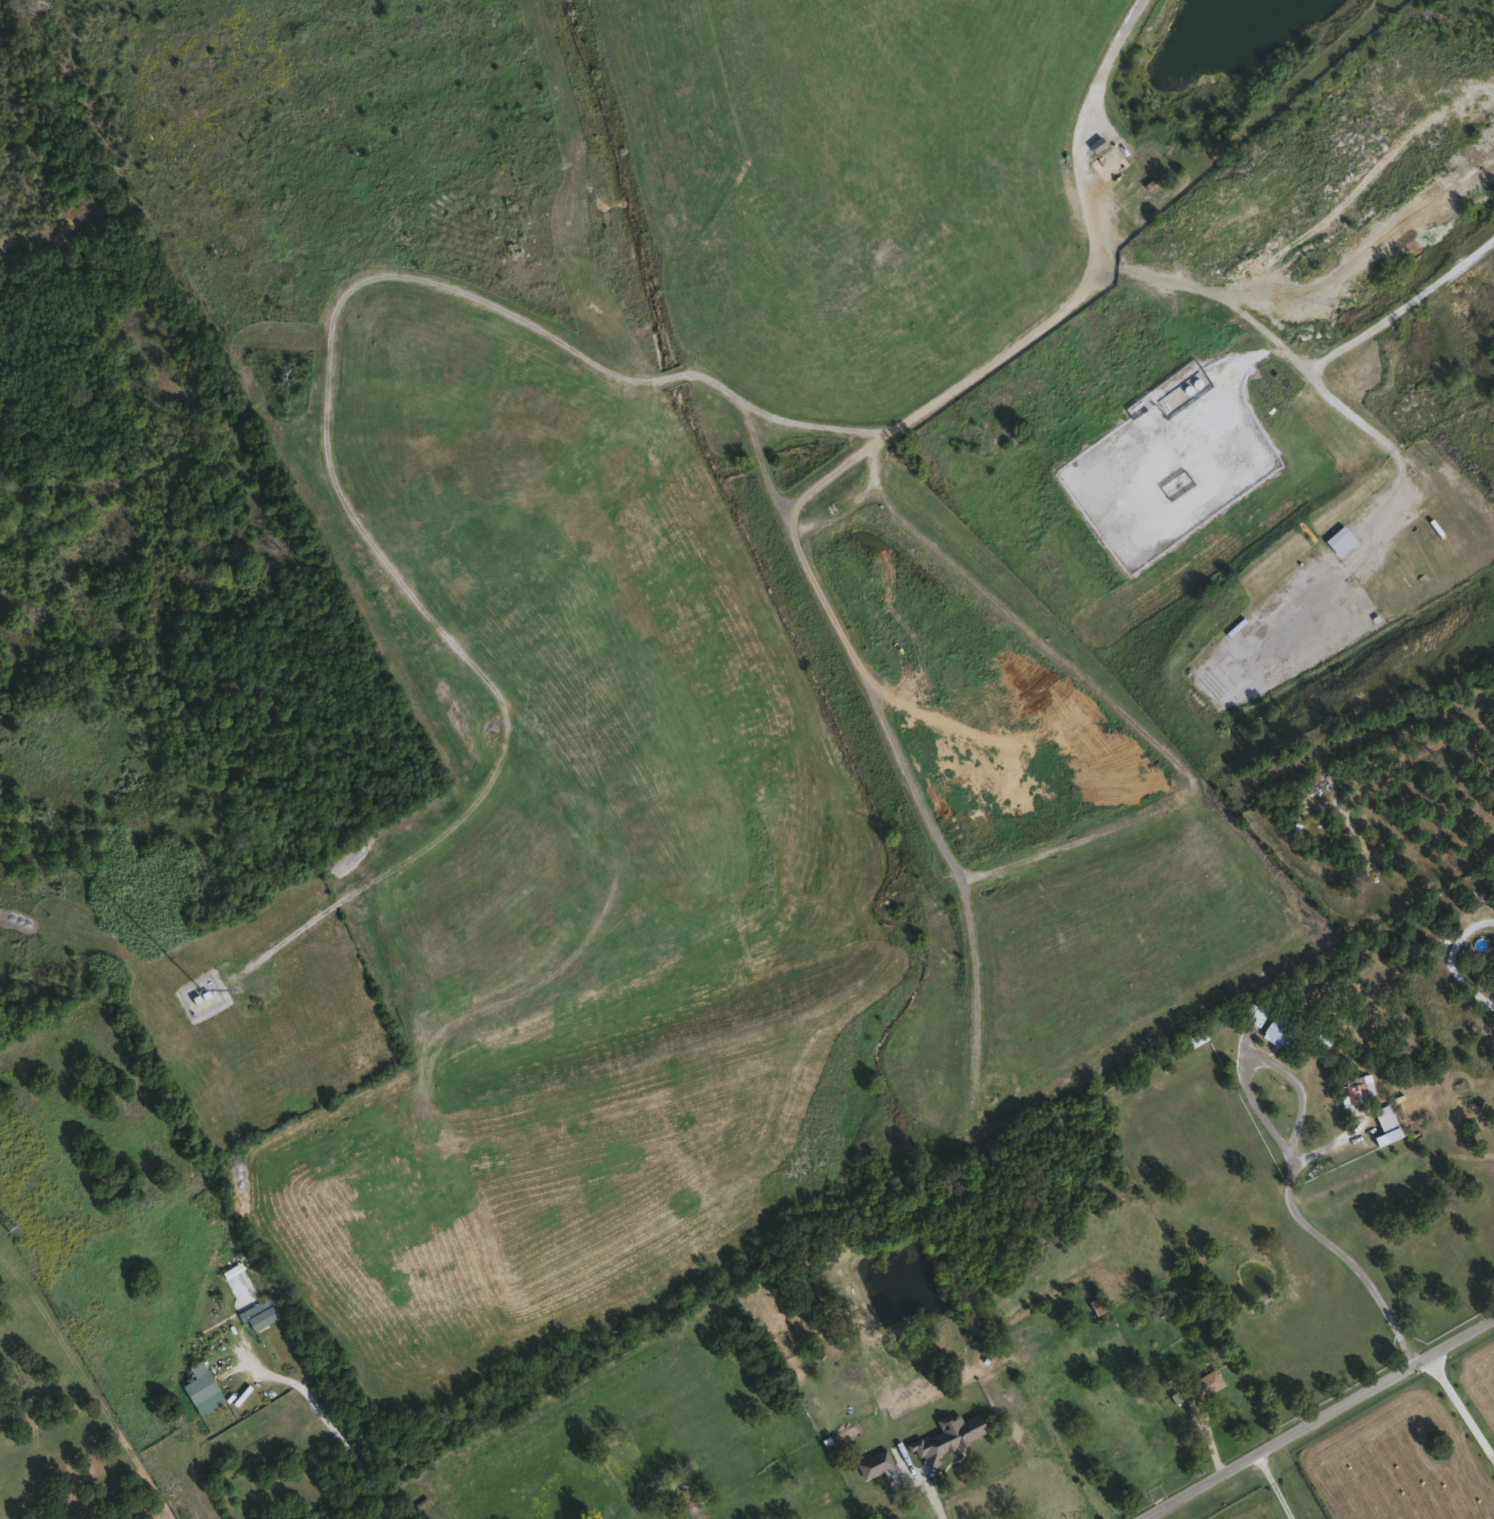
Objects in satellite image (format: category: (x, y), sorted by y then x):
road: (1130, 268)
road: (477, 295)
road: (1333, 353)
building: (1340, 541)
building: (1254, 1013)
building: (1278, 1031)
building: (1357, 1089)
building: (1384, 1124)
road: (1293, 1160)
building: (258, 1314)
building: (198, 1382)
building: (1200, 1386)
road: (1464, 1399)
road: (328, 1418)
road: (1321, 1418)
road: (1274, 1487)
road: (937, 1495)
building: (890, 1504)
building: (700, 1517)

